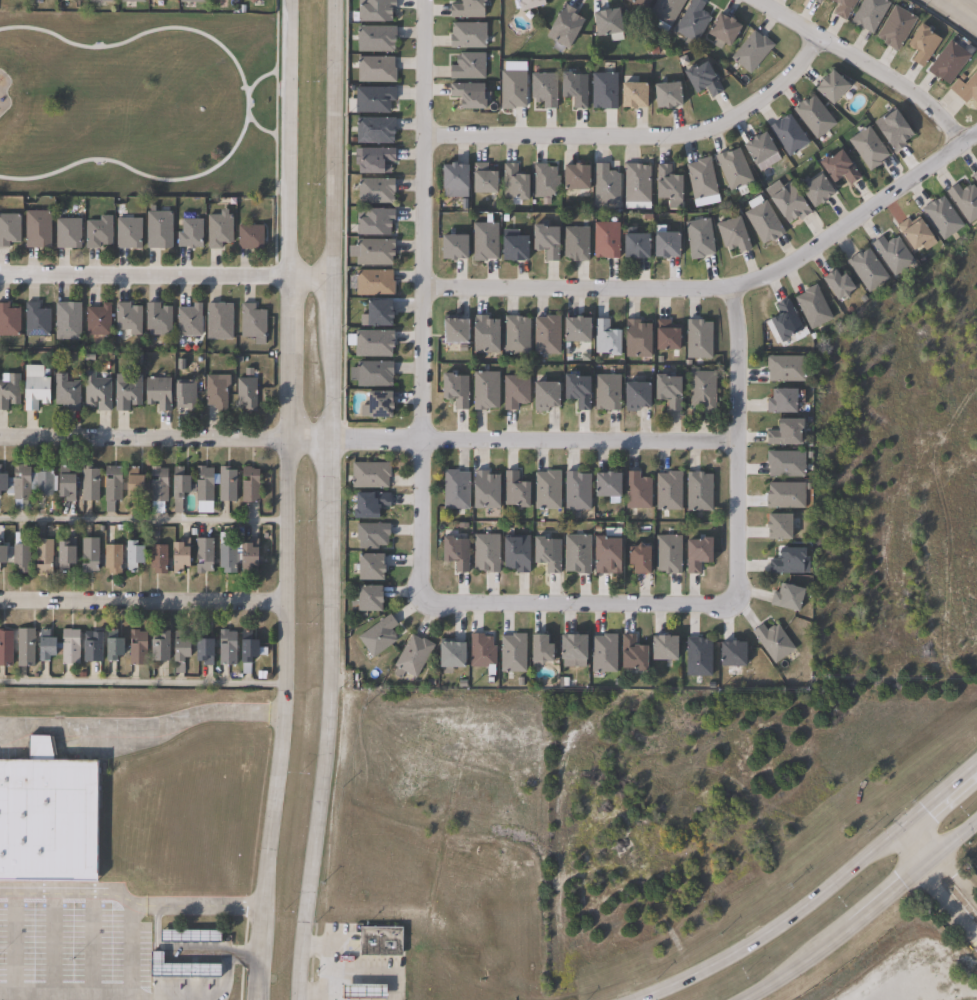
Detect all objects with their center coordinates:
building: (97, 0)
building: (127, 1)
building: (188, 1)
building: (246, 1)
building: (815, 1)
building: (638, 3)
building: (527, 4)
road: (966, 7)
building: (844, 8)
building: (466, 9)
building: (372, 10)
building: (665, 10)
building: (868, 14)
building: (691, 21)
building: (604, 22)
building: (563, 27)
building: (895, 28)
building: (722, 29)
building: (466, 35)
building: (374, 39)
building: (922, 45)
building: (751, 51)
building: (947, 63)
road: (861, 65)
building: (467, 67)
building: (374, 69)
road: (258, 77)
building: (701, 80)
building: (512, 86)
building: (829, 87)
building: (542, 89)
building: (572, 89)
building: (969, 89)
building: (602, 91)
building: (466, 95)
building: (631, 95)
building: (665, 95)
building: (372, 99)
road: (246, 102)
park: (136, 103)
building: (813, 117)
road: (258, 127)
building: (373, 131)
building: (892, 131)
building: (787, 135)
road: (274, 136)
road: (637, 136)
building: (757, 148)
building: (867, 148)
building: (372, 160)
building: (838, 168)
building: (732, 169)
building: (573, 178)
building: (974, 178)
building: (700, 179)
building: (481, 180)
building: (452, 181)
building: (543, 181)
building: (512, 183)
building: (666, 184)
building: (605, 186)
building: (636, 187)
building: (374, 191)
building: (815, 191)
building: (964, 201)
building: (788, 204)
building: (942, 218)
building: (762, 221)
building: (373, 222)
building: (10, 229)
building: (39, 229)
building: (153, 230)
building: (214, 231)
building: (96, 232)
building: (70, 234)
building: (124, 234)
building: (185, 234)
building: (913, 234)
building: (732, 235)
building: (245, 238)
building: (698, 239)
building: (604, 241)
building: (482, 242)
building: (543, 242)
building: (574, 244)
building: (663, 246)
building: (633, 247)
building: (450, 248)
building: (511, 250)
building: (373, 252)
building: (892, 255)
building: (866, 271)
road: (142, 273)
road: (308, 273)
building: (373, 283)
building: (836, 285)
road: (723, 287)
road: (420, 299)
building: (812, 308)
building: (376, 314)
building: (124, 319)
building: (154, 319)
building: (10, 321)
building: (38, 321)
building: (93, 321)
building: (185, 321)
building: (215, 321)
building: (248, 321)
building: (66, 322)
building: (784, 322)
building: (574, 331)
building: (452, 332)
building: (545, 335)
building: (483, 336)
building: (515, 336)
building: (664, 337)
building: (604, 339)
building: (636, 340)
building: (697, 340)
building: (369, 344)
building: (784, 366)
building: (370, 375)
building: (37, 390)
building: (701, 390)
building: (10, 391)
building: (124, 391)
building: (453, 391)
building: (484, 391)
building: (68, 392)
building: (98, 392)
building: (154, 392)
building: (212, 392)
building: (514, 392)
building: (575, 392)
building: (666, 392)
building: (606, 393)
building: (180, 394)
building: (242, 394)
building: (543, 397)
building: (634, 397)
building: (781, 399)
building: (376, 406)
building: (784, 430)
road: (146, 442)
road: (532, 442)
road: (734, 442)
road: (312, 443)
building: (785, 462)
building: (368, 474)
building: (45, 482)
building: (4, 483)
building: (22, 483)
building: (154, 483)
building: (222, 483)
building: (604, 483)
building: (91, 484)
building: (245, 484)
building: (70, 485)
building: (108, 486)
building: (129, 486)
building: (178, 488)
building: (454, 488)
building: (513, 488)
building: (546, 489)
building: (483, 490)
building: (576, 490)
building: (637, 490)
building: (667, 490)
building: (698, 490)
building: (784, 494)
road: (292, 500)
road: (332, 501)
building: (367, 503)
road: (145, 520)
building: (777, 525)
building: (370, 534)
building: (60, 552)
building: (454, 552)
building: (485, 552)
building: (515, 552)
building: (546, 552)
building: (576, 553)
building: (605, 553)
building: (667, 553)
building: (696, 553)
building: (2, 554)
building: (85, 554)
building: (175, 554)
building: (200, 554)
building: (244, 554)
building: (128, 555)
building: (39, 556)
building: (17, 557)
building: (108, 557)
building: (224, 557)
building: (637, 557)
building: (154, 558)
building: (786, 560)
building: (367, 565)
building: (365, 597)
building: (786, 597)
road: (144, 598)
road: (578, 602)
building: (377, 635)
building: (772, 641)
building: (65, 645)
building: (570, 645)
building: (29, 646)
building: (86, 646)
building: (133, 646)
building: (154, 646)
building: (661, 646)
building: (4, 647)
building: (107, 647)
building: (223, 647)
building: (538, 648)
building: (199, 649)
building: (243, 649)
building: (175, 651)
building: (481, 652)
building: (512, 652)
building: (603, 652)
building: (449, 653)
building: (630, 653)
building: (731, 653)
building: (411, 656)
building: (697, 656)
road: (145, 682)
road: (258, 712)
road: (116, 733)
building: (43, 816)
road: (920, 839)
road: (955, 882)
road: (78, 892)
road: (816, 899)
road: (209, 906)
road: (862, 912)
building: (184, 936)
building: (378, 941)
road: (12, 944)
road: (50, 945)
road: (91, 945)
road: (195, 953)
road: (905, 953)
road: (243, 954)
road: (324, 967)
building: (179, 971)
road: (131, 972)
road: (223, 978)
parking lot: (923, 983)
road: (314, 992)
building: (360, 993)
road: (65, 998)

